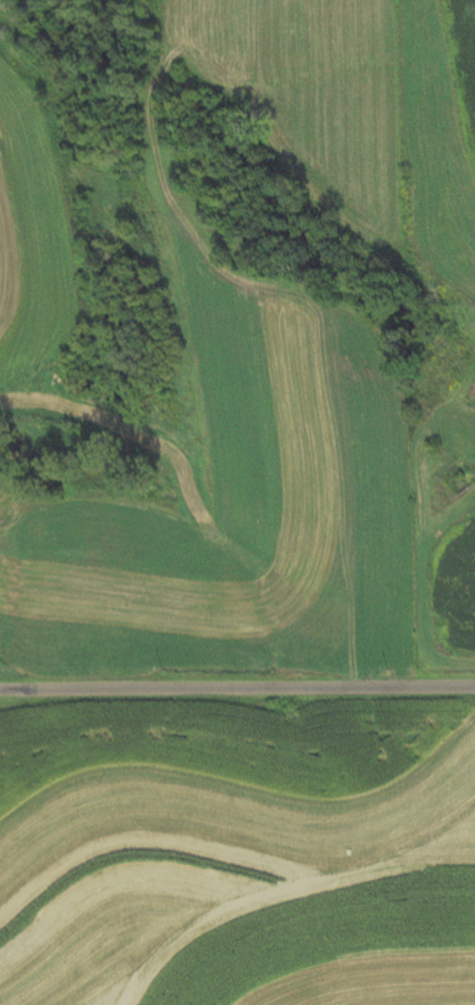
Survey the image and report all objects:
road: (237, 694)

